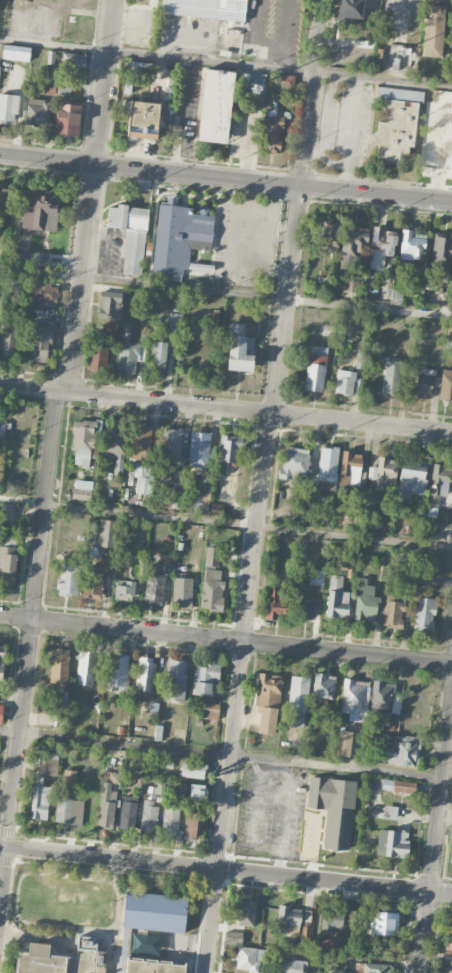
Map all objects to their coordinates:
building: (206, 8)
building: (349, 10)
building: (432, 30)
building: (400, 36)
building: (17, 52)
building: (73, 63)
road: (225, 63)
building: (286, 81)
building: (63, 87)
building: (254, 96)
building: (216, 105)
building: (8, 107)
building: (37, 112)
building: (143, 118)
building: (67, 119)
building: (397, 125)
building: (272, 130)
building: (432, 152)
building: (450, 165)
road: (226, 177)
road: (93, 196)
building: (3, 198)
road: (298, 207)
building: (37, 221)
building: (130, 234)
building: (179, 235)
building: (329, 236)
building: (352, 242)
building: (382, 242)
building: (412, 245)
building: (441, 251)
building: (349, 286)
road: (226, 291)
building: (43, 292)
building: (401, 293)
building: (110, 304)
building: (174, 322)
building: (109, 327)
building: (329, 329)
building: (449, 333)
building: (96, 335)
building: (8, 341)
building: (41, 345)
building: (241, 346)
building: (130, 350)
building: (158, 356)
building: (97, 358)
building: (315, 368)
building: (390, 376)
building: (344, 382)
building: (423, 382)
building: (446, 384)
road: (225, 409)
building: (2, 427)
building: (84, 441)
building: (141, 442)
building: (172, 444)
building: (115, 447)
building: (198, 449)
building: (230, 451)
building: (294, 463)
building: (327, 467)
building: (351, 468)
building: (383, 471)
building: (142, 476)
building: (175, 479)
building: (411, 480)
building: (437, 484)
building: (80, 493)
building: (203, 493)
building: (371, 502)
building: (7, 514)
building: (349, 521)
road: (225, 523)
building: (439, 531)
building: (105, 533)
building: (166, 559)
building: (7, 561)
building: (414, 574)
building: (316, 577)
building: (212, 578)
building: (67, 579)
building: (95, 582)
building: (155, 584)
building: (126, 590)
building: (182, 592)
building: (337, 601)
building: (277, 604)
building: (306, 606)
building: (377, 606)
building: (424, 612)
road: (225, 640)
road: (31, 650)
building: (1, 659)
building: (59, 665)
building: (85, 667)
building: (117, 673)
building: (145, 673)
building: (205, 678)
building: (176, 680)
building: (323, 689)
road: (238, 693)
building: (354, 696)
building: (381, 696)
building: (267, 701)
building: (297, 701)
building: (0, 712)
building: (209, 712)
building: (327, 728)
building: (343, 742)
building: (405, 751)
road: (226, 755)
building: (51, 762)
building: (193, 770)
building: (69, 776)
building: (397, 785)
building: (191, 789)
building: (151, 792)
building: (39, 802)
building: (333, 808)
building: (106, 809)
building: (69, 811)
building: (128, 812)
building: (390, 812)
building: (149, 815)
building: (170, 820)
building: (193, 827)
road: (436, 840)
building: (392, 842)
building: (451, 856)
road: (225, 870)
building: (155, 912)
building: (293, 916)
building: (240, 921)
building: (332, 921)
building: (355, 921)
building: (382, 923)
road: (317, 927)
building: (305, 934)
building: (448, 938)
building: (329, 944)
building: (145, 945)
building: (61, 959)
building: (249, 959)
building: (152, 966)
building: (292, 966)
building: (371, 968)

